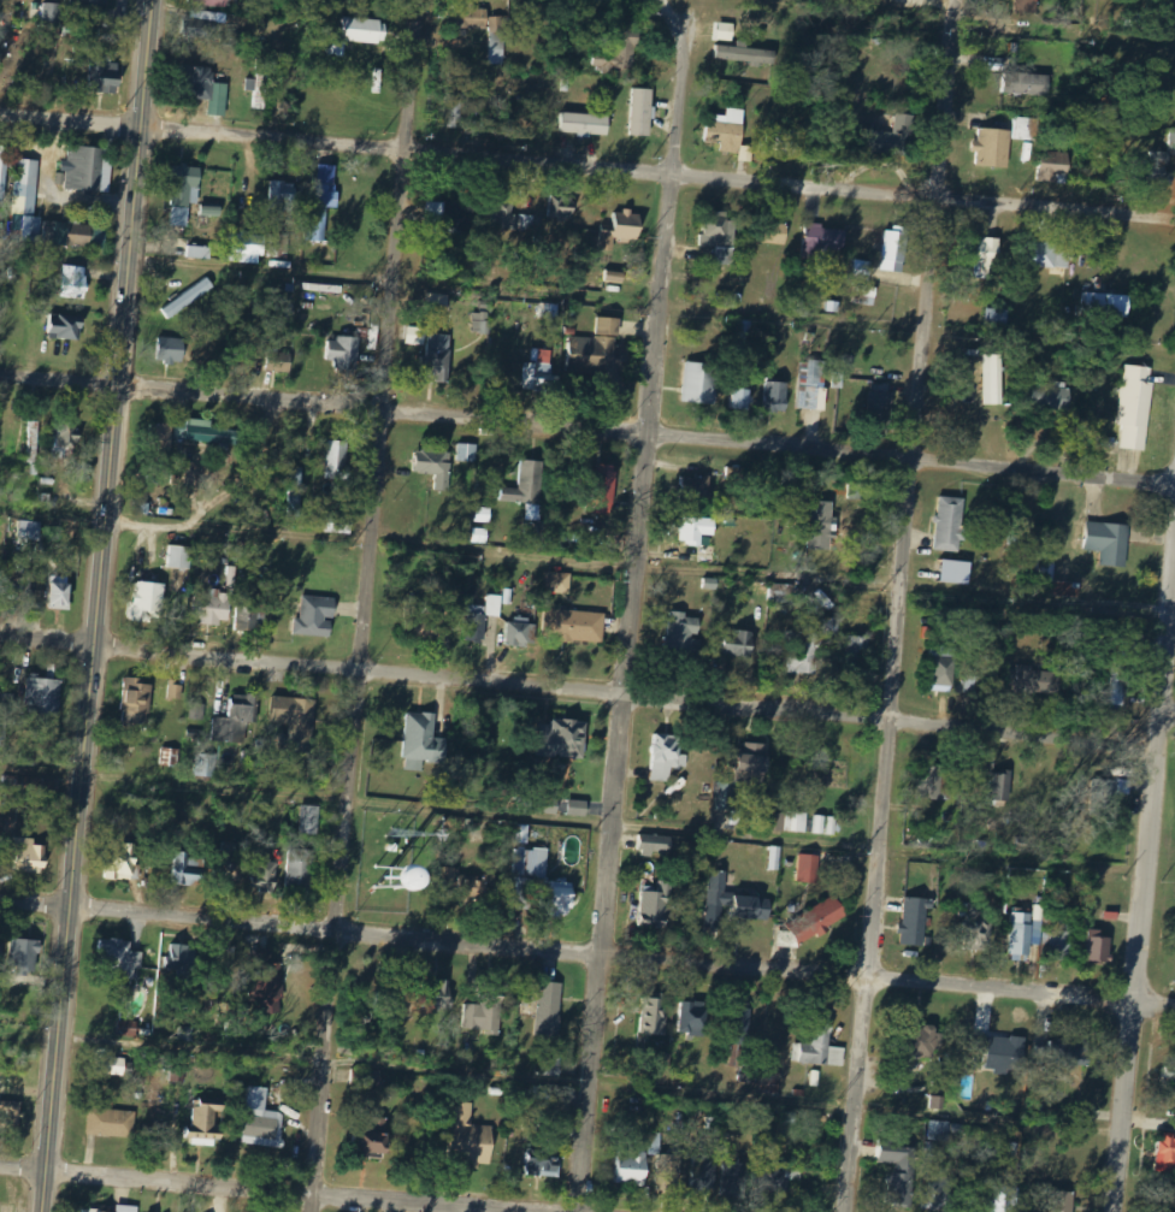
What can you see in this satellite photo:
building: (90, 4)
building: (211, 4)
building: (1027, 7)
building: (53, 13)
building: (200, 24)
building: (365, 31)
building: (497, 47)
building: (744, 55)
road: (144, 63)
building: (106, 77)
building: (1026, 84)
building: (261, 85)
building: (206, 89)
building: (453, 108)
building: (643, 113)
building: (586, 125)
building: (1027, 130)
building: (730, 134)
building: (896, 138)
building: (1171, 142)
building: (993, 149)
building: (2, 166)
building: (1055, 167)
building: (87, 170)
road: (586, 177)
building: (25, 187)
building: (185, 194)
building: (282, 197)
building: (321, 202)
building: (561, 209)
building: (448, 215)
building: (510, 218)
building: (621, 230)
building: (40, 231)
building: (774, 233)
building: (88, 237)
building: (721, 238)
building: (821, 241)
building: (279, 246)
building: (249, 249)
building: (894, 252)
building: (201, 253)
building: (1046, 255)
building: (981, 256)
building: (861, 268)
building: (614, 278)
building: (76, 283)
building: (866, 296)
building: (188, 298)
building: (438, 303)
building: (1106, 306)
building: (482, 324)
building: (66, 327)
building: (171, 350)
building: (607, 351)
building: (343, 354)
building: (438, 359)
building: (278, 362)
building: (539, 378)
building: (993, 380)
building: (701, 384)
building: (814, 388)
building: (775, 397)
building: (1055, 397)
building: (880, 400)
building: (742, 401)
building: (1135, 406)
building: (205, 433)
road: (586, 433)
building: (163, 436)
building: (64, 437)
building: (33, 442)
building: (467, 453)
building: (338, 461)
building: (433, 468)
building: (527, 485)
building: (695, 489)
building: (604, 490)
building: (295, 497)
building: (339, 525)
building: (822, 526)
building: (950, 526)
building: (698, 531)
building: (30, 532)
building: (530, 534)
building: (479, 536)
building: (1109, 544)
building: (182, 558)
building: (957, 573)
building: (560, 584)
building: (1062, 590)
building: (60, 596)
building: (148, 603)
road: (630, 604)
road: (372, 605)
road: (898, 605)
building: (213, 608)
building: (317, 617)
building: (247, 619)
building: (483, 619)
building: (424, 622)
building: (574, 626)
building: (683, 633)
building: (522, 634)
building: (740, 644)
building: (810, 648)
building: (856, 650)
building: (944, 667)
road: (90, 668)
building: (1031, 680)
building: (175, 692)
road: (578, 692)
building: (45, 698)
building: (6, 700)
building: (136, 702)
building: (235, 720)
building: (294, 720)
road: (1167, 739)
building: (562, 740)
building: (423, 743)
building: (169, 757)
building: (667, 757)
building: (754, 765)
building: (206, 767)
building: (931, 784)
building: (1000, 786)
building: (1120, 786)
building: (311, 820)
building: (785, 822)
building: (823, 824)
building: (646, 846)
building: (29, 856)
building: (772, 858)
building: (231, 862)
building: (124, 863)
building: (301, 869)
building: (805, 869)
building: (187, 870)
building: (265, 873)
building: (423, 880)
building: (714, 883)
building: (539, 886)
building: (474, 887)
road: (1144, 897)
building: (650, 907)
building: (744, 907)
building: (810, 922)
building: (911, 923)
building: (974, 927)
building: (1017, 936)
building: (1050, 945)
building: (1094, 948)
road: (587, 954)
building: (24, 956)
building: (122, 958)
building: (181, 960)
building: (267, 983)
building: (438, 995)
building: (549, 1010)
building: (654, 1015)
building: (484, 1016)
building: (685, 1018)
building: (737, 1023)
building: (916, 1042)
building: (817, 1045)
building: (993, 1051)
building: (1063, 1052)
building: (108, 1063)
building: (372, 1078)
building: (770, 1083)
building: (1170, 1083)
building: (539, 1094)
building: (935, 1104)
building: (10, 1113)
building: (207, 1117)
building: (262, 1121)
building: (110, 1123)
building: (939, 1131)
building: (958, 1133)
building: (470, 1137)
building: (376, 1139)
building: (1163, 1154)
building: (541, 1165)
building: (634, 1169)
building: (672, 1171)
building: (703, 1172)
building: (898, 1172)
building: (736, 1180)
building: (779, 1181)
road: (243, 1193)
building: (940, 1195)
building: (1167, 1200)
building: (1058, 1201)
building: (999, 1207)
building: (118, 1208)

